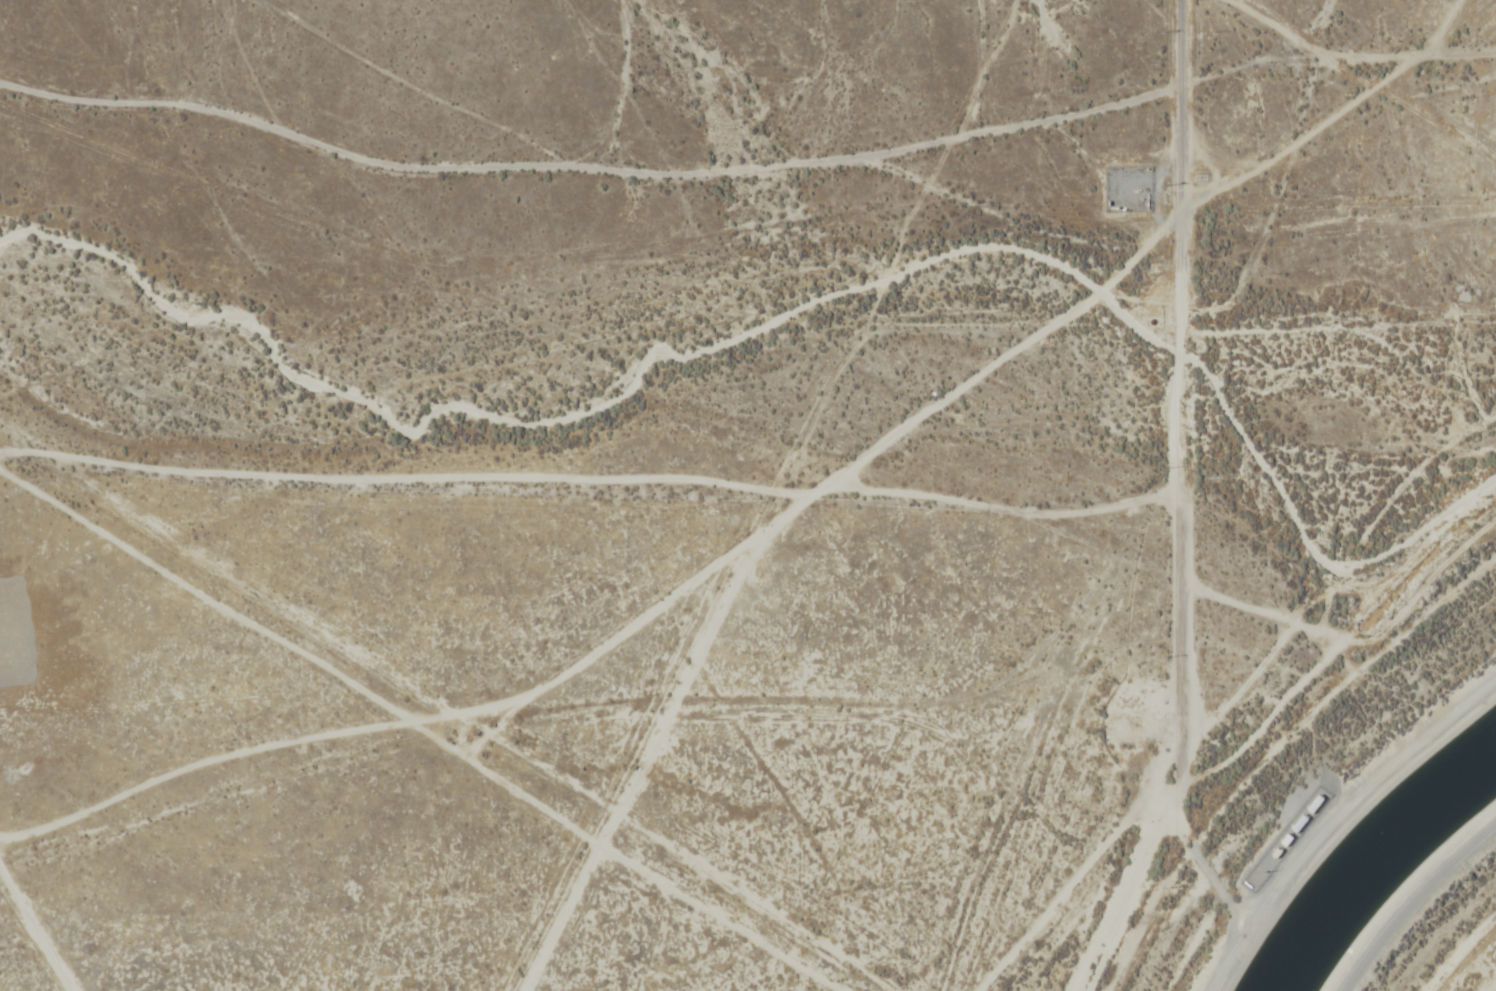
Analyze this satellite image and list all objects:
road: (1351, 95)
road: (1176, 381)
road: (797, 495)
road: (561, 648)
road: (1331, 815)
road: (1130, 877)
road: (1414, 901)
road: (625, 916)

